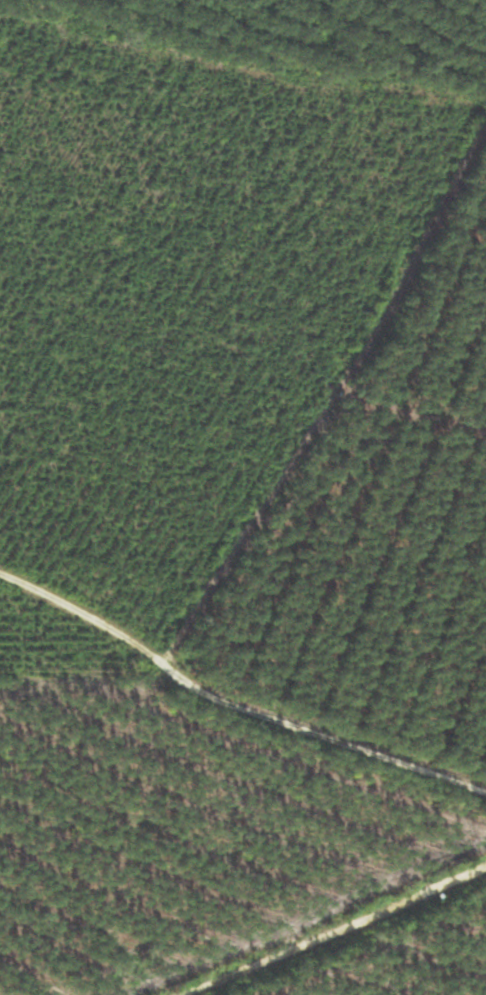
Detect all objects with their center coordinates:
road: (243, 889)

